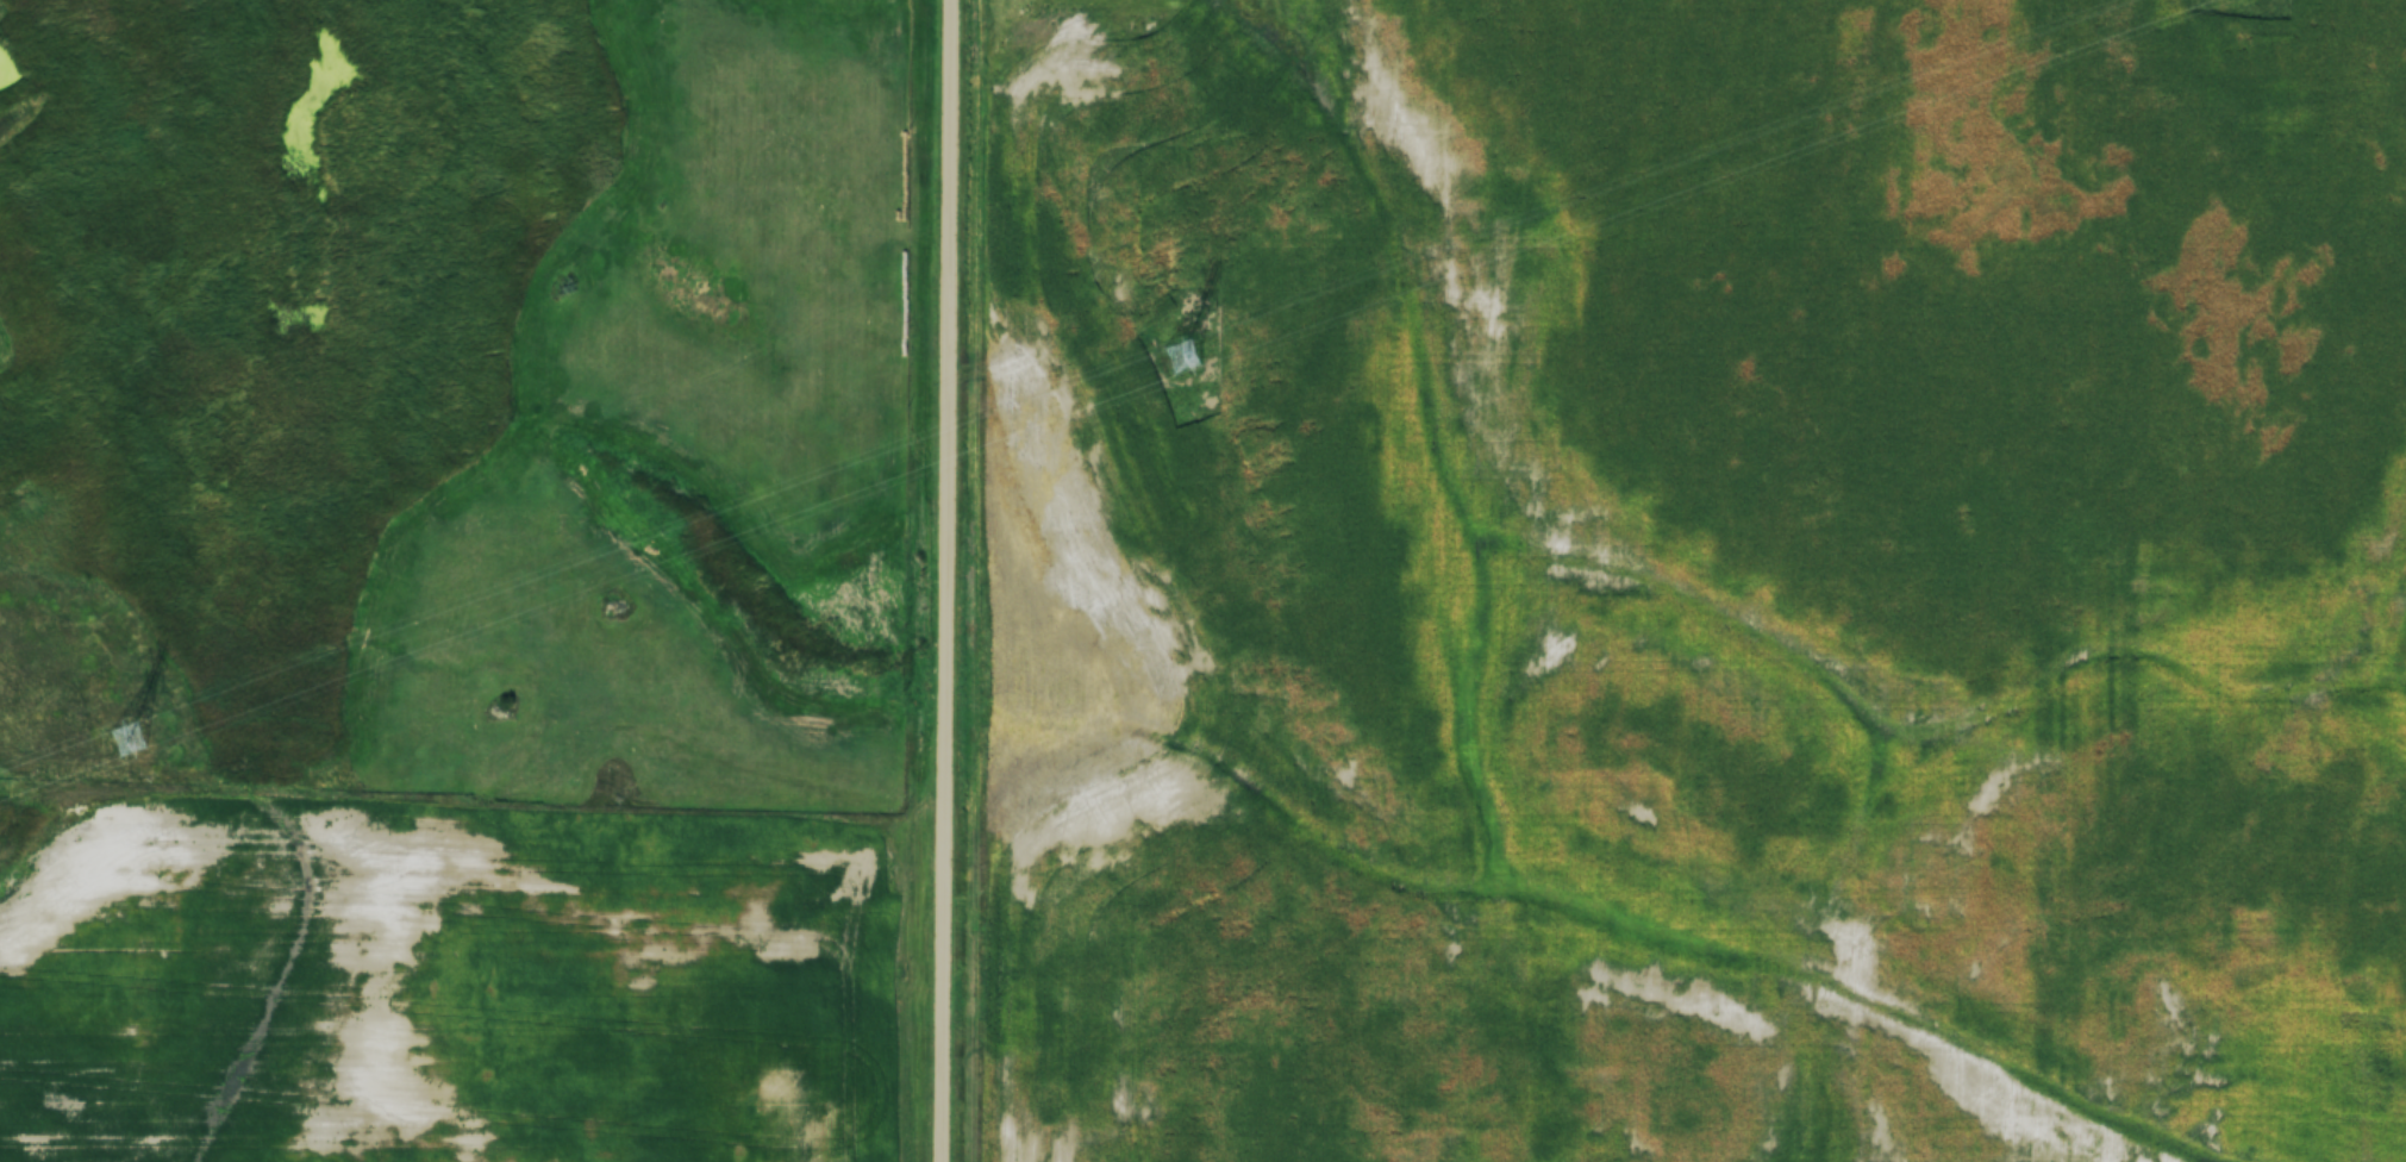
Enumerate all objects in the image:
power tower: (1183, 357)
road: (948, 581)
power tower: (133, 742)

